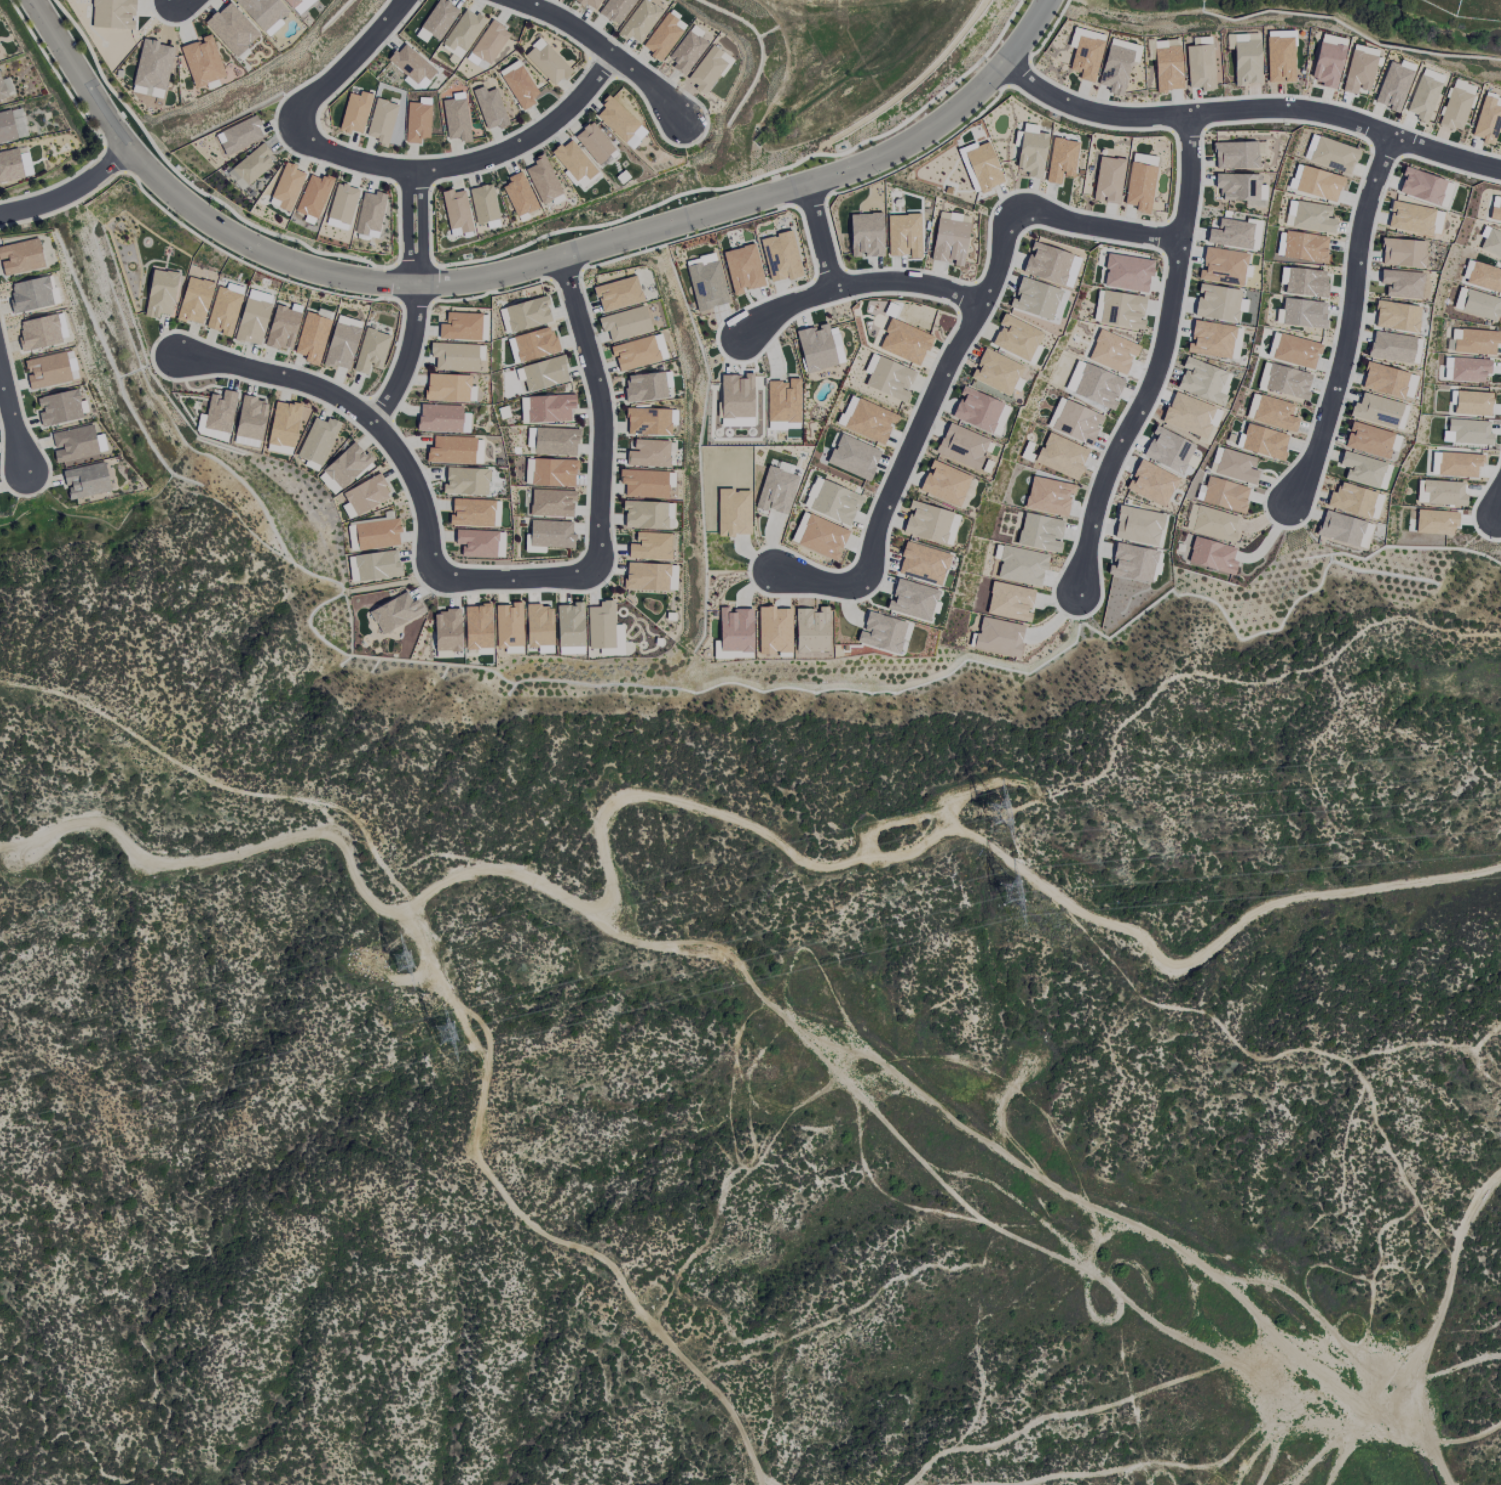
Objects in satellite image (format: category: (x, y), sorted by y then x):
building: (289, 2)
building: (589, 3)
building: (301, 5)
building: (614, 9)
building: (262, 11)
building: (113, 14)
building: (639, 22)
building: (231, 29)
building: (662, 35)
building: (457, 40)
building: (489, 42)
road: (605, 49)
building: (685, 52)
building: (1085, 57)
road: (354, 58)
building: (1245, 60)
building: (1278, 60)
building: (202, 61)
building: (1326, 64)
building: (1117, 65)
building: (411, 66)
building: (551, 66)
building: (1199, 67)
building: (1167, 68)
building: (152, 69)
building: (707, 70)
building: (1357, 72)
building: (518, 84)
building: (1461, 86)
building: (2, 91)
building: (1391, 92)
building: (1421, 98)
building: (489, 108)
road: (1249, 109)
building: (1453, 109)
building: (354, 112)
building: (455, 119)
building: (615, 119)
building: (1486, 120)
building: (381, 121)
building: (417, 122)
building: (6, 128)
building: (239, 135)
building: (635, 137)
building: (597, 147)
building: (1030, 152)
building: (1333, 155)
building: (1233, 156)
building: (1060, 160)
building: (572, 161)
road: (459, 164)
building: (10, 165)
building: (980, 165)
building: (249, 167)
building: (1294, 177)
building: (542, 180)
building: (1108, 180)
building: (1317, 184)
building: (1234, 185)
building: (287, 186)
building: (1421, 186)
building: (1139, 187)
road: (68, 191)
building: (518, 194)
building: (310, 202)
building: (341, 204)
building: (483, 204)
building: (456, 211)
building: (369, 213)
building: (1308, 216)
building: (1410, 218)
road: (413, 227)
road: (1097, 230)
building: (865, 234)
building: (1227, 234)
building: (1254, 234)
road: (820, 235)
building: (903, 235)
building: (948, 241)
building: (1491, 243)
building: (1304, 247)
building: (1402, 253)
building: (20, 257)
building: (780, 257)
building: (1046, 263)
road: (518, 267)
building: (742, 268)
building: (1221, 268)
building: (1071, 269)
building: (1127, 273)
building: (1303, 282)
road: (857, 283)
building: (1401, 284)
building: (706, 285)
building: (160, 293)
building: (617, 293)
building: (30, 295)
building: (259, 296)
building: (1035, 299)
building: (194, 301)
building: (1477, 304)
building: (1213, 305)
building: (1121, 310)
building: (223, 311)
building: (1302, 313)
building: (527, 314)
building: (1396, 316)
road: (1350, 319)
building: (252, 323)
building: (624, 323)
building: (460, 326)
building: (281, 328)
building: (313, 330)
building: (39, 332)
building: (1015, 338)
building: (1210, 340)
building: (342, 342)
building: (904, 342)
building: (1475, 342)
building: (836, 345)
building: (534, 346)
building: (1390, 347)
building: (815, 348)
building: (370, 350)
building: (1295, 351)
building: (634, 353)
building: (1108, 355)
road: (406, 356)
building: (454, 357)
road: (1161, 359)
building: (1468, 369)
building: (47, 370)
building: (995, 372)
building: (544, 373)
building: (889, 379)
building: (1383, 380)
building: (1285, 381)
building: (1097, 386)
building: (446, 387)
building: (645, 387)
building: (1214, 397)
road: (934, 399)
building: (736, 400)
building: (783, 403)
building: (1472, 403)
building: (59, 408)
building: (546, 408)
road: (356, 409)
building: (975, 409)
building: (1375, 410)
building: (219, 411)
road: (601, 412)
building: (1272, 414)
building: (1174, 417)
building: (1400, 417)
road: (12, 418)
building: (250, 418)
building: (441, 419)
building: (866, 419)
building: (647, 422)
building: (284, 424)
building: (1469, 432)
building: (529, 438)
building: (1368, 440)
building: (553, 442)
building: (1262, 442)
building: (73, 443)
building: (315, 443)
building: (961, 446)
building: (451, 450)
building: (1167, 450)
building: (477, 451)
building: (648, 453)
building: (1061, 456)
building: (853, 457)
building: (1434, 463)
building: (346, 465)
building: (1458, 465)
building: (1235, 466)
building: (1361, 469)
building: (551, 472)
building: (86, 480)
building: (466, 481)
building: (327, 483)
building: (643, 483)
building: (943, 483)
building: (1150, 483)
building: (771, 484)
building: (1224, 495)
building: (1048, 496)
building: (1444, 497)
building: (355, 499)
building: (1352, 500)
building: (551, 503)
building: (842, 512)
building: (471, 513)
building: (733, 513)
road: (1500, 514)
building: (644, 515)
building: (1434, 522)
building: (1214, 524)
building: (1137, 525)
building: (950, 529)
building: (1344, 529)
building: (933, 533)
building: (1040, 533)
building: (376, 534)
building: (550, 534)
building: (476, 543)
building: (821, 544)
building: (649, 546)
building: (1212, 555)
building: (922, 563)
building: (1132, 563)
building: (373, 566)
building: (1021, 566)
building: (646, 576)
road: (514, 579)
road: (816, 580)
building: (911, 600)
building: (1009, 601)
building: (383, 617)
building: (538, 625)
building: (569, 625)
building: (508, 626)
building: (600, 626)
building: (477, 627)
building: (446, 630)
building: (734, 630)
building: (811, 630)
building: (881, 633)
building: (776, 635)
building: (998, 637)
power tower: (1009, 817)
power tower: (1005, 888)
power tower: (403, 959)
road: (468, 1024)
power tower: (443, 1034)

